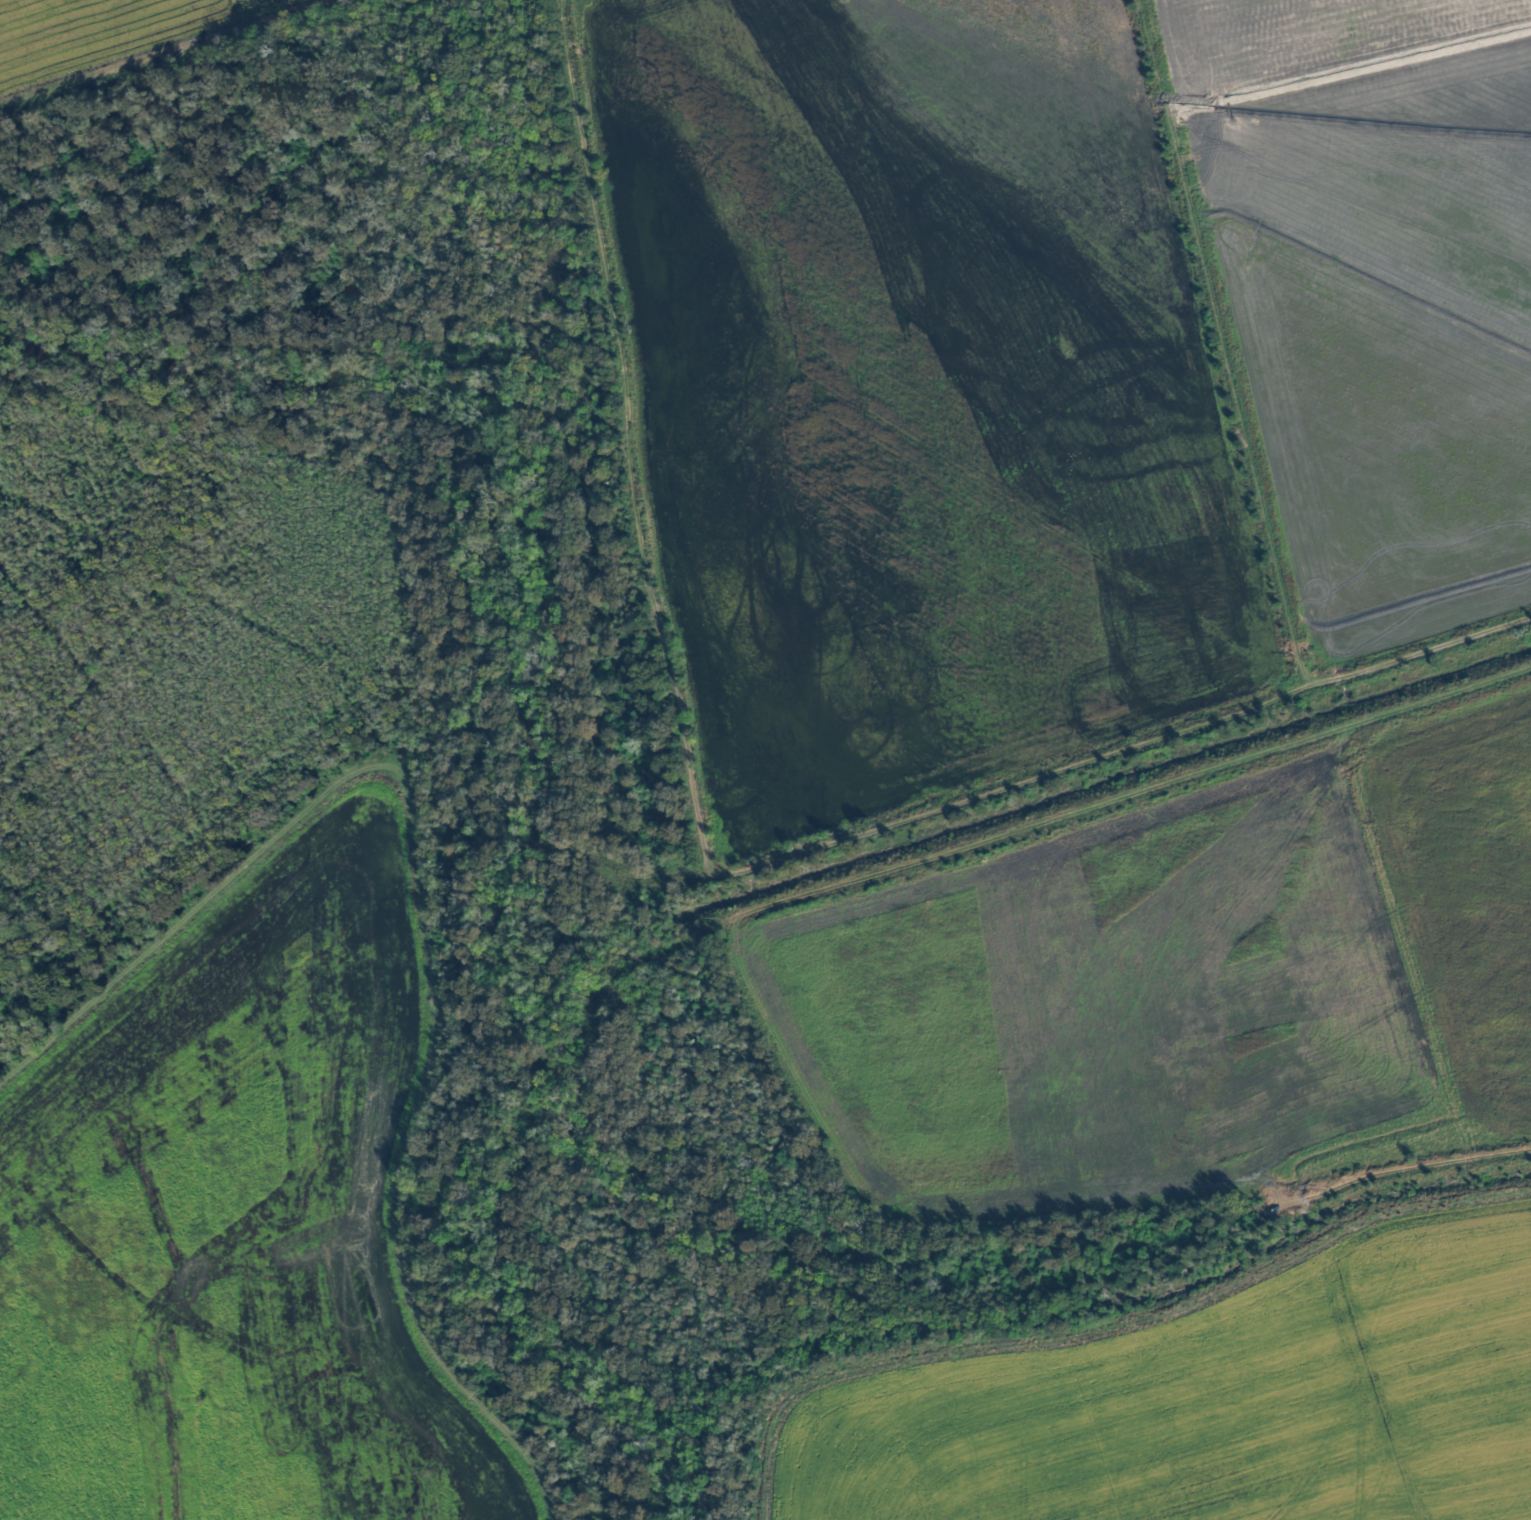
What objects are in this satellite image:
road: (75, 815)
road: (1189, 1274)
road: (900, 1298)

